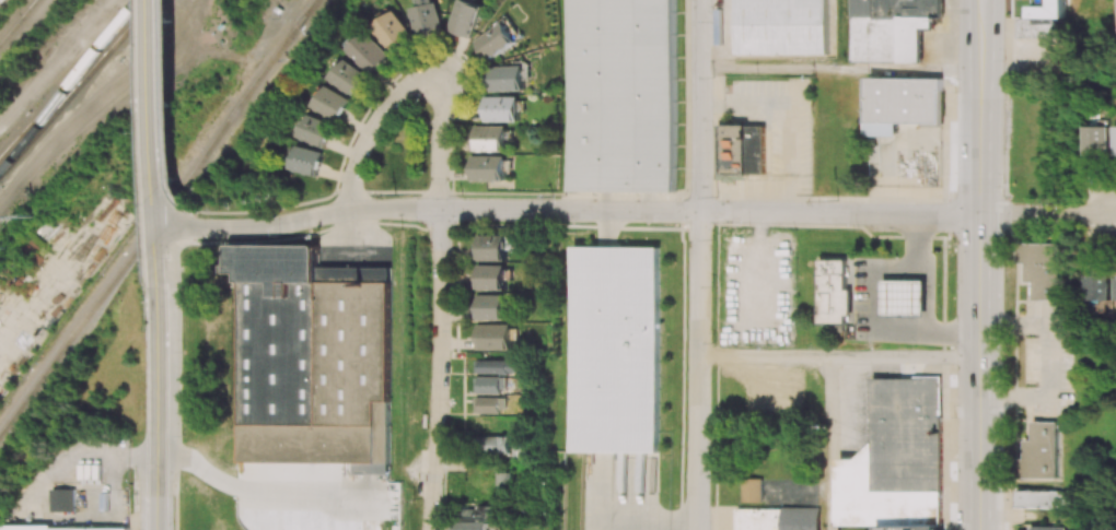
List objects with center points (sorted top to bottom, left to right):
building: (425, 1)
road: (981, 2)
building: (279, 9)
railway: (305, 14)
railway: (306, 14)
building: (1041, 16)
building: (464, 17)
building: (427, 19)
railway: (19, 21)
street lamp: (712, 21)
road: (198, 25)
building: (780, 26)
building: (892, 28)
road: (24, 30)
building: (395, 33)
railway: (7, 36)
building: (496, 40)
building: (370, 52)
street lamp: (1003, 60)
road: (56, 63)
road: (841, 70)
road: (1048, 71)
road: (136, 73)
building: (350, 76)
building: (505, 78)
railway: (71, 81)
railway: (77, 87)
railway: (67, 92)
street lamp: (955, 92)
building: (620, 95)
building: (332, 103)
building: (902, 104)
road: (175, 106)
building: (501, 108)
road: (160, 114)
road: (373, 125)
street lamp: (711, 129)
building: (316, 131)
building: (488, 139)
building: (1114, 141)
building: (1095, 142)
road: (443, 144)
road: (453, 148)
building: (742, 149)
building: (306, 161)
building: (487, 167)
street lamp: (1007, 187)
road: (352, 190)
road: (395, 191)
road: (437, 191)
street lamp: (547, 191)
power tower: (135, 195)
road: (569, 210)
power tower: (33, 215)
road: (1048, 215)
road: (196, 224)
street lamp: (745, 225)
street lamp: (398, 228)
street lamp: (856, 229)
railway: (149, 232)
street lamp: (711, 238)
street lamp: (952, 238)
building: (490, 247)
street lamp: (897, 257)
road: (179, 262)
road: (1015, 263)
road: (699, 264)
road: (980, 267)
building: (1038, 268)
building: (490, 278)
street lamp: (938, 283)
building: (1095, 286)
building: (1114, 288)
building: (835, 292)
road: (930, 293)
building: (904, 298)
building: (850, 302)
building: (490, 307)
building: (493, 337)
building: (614, 350)
street lamp: (1002, 353)
road: (765, 356)
road: (906, 357)
building: (311, 358)
building: (499, 366)
road: (441, 369)
road: (161, 378)
building: (491, 385)
building: (491, 404)
street lamp: (953, 416)
building: (492, 423)
road: (830, 444)
building: (493, 445)
building: (519, 451)
building: (1037, 452)
road: (136, 455)
building: (896, 460)
building: (503, 481)
road: (253, 482)
street lamp: (1002, 488)
building: (751, 490)
building: (1036, 498)
building: (66, 499)
road: (625, 510)
building: (478, 514)
building: (777, 519)
building: (474, 526)
building: (60, 527)
building: (1045, 528)

